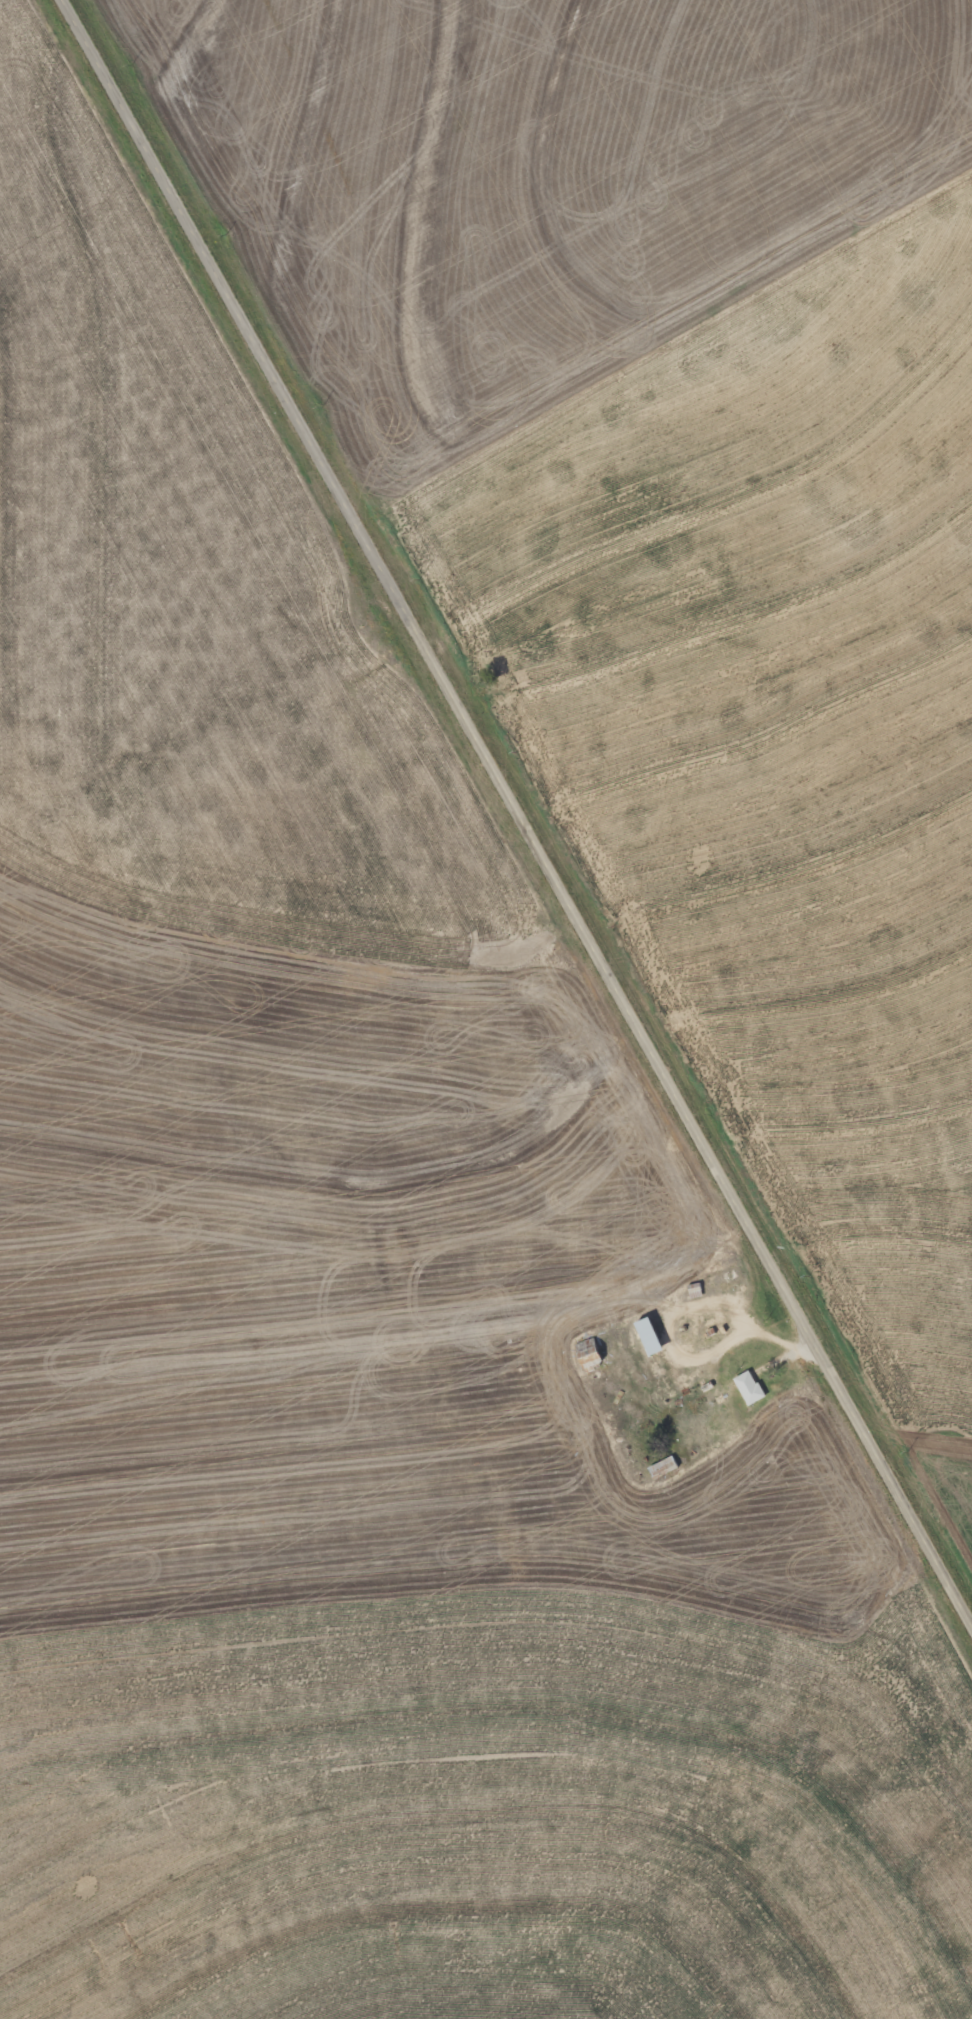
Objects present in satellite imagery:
road: (517, 814)
building: (649, 1336)
building: (744, 1380)

